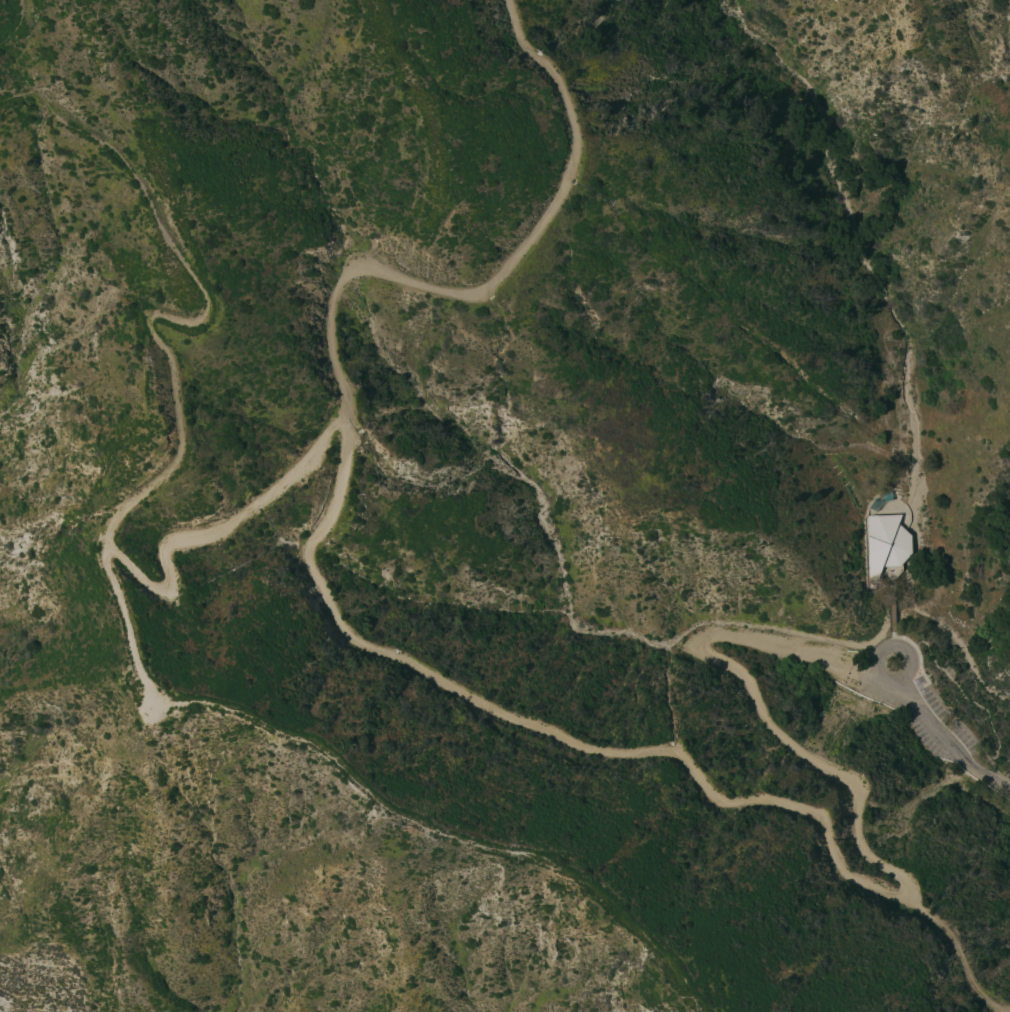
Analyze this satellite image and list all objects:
road: (13, 20)
road: (182, 426)
building: (886, 543)
road: (893, 574)
road: (895, 605)
road: (940, 699)
road: (923, 712)
parking lot: (920, 713)
road: (529, 720)
road: (982, 775)
road: (370, 786)
road: (961, 951)

